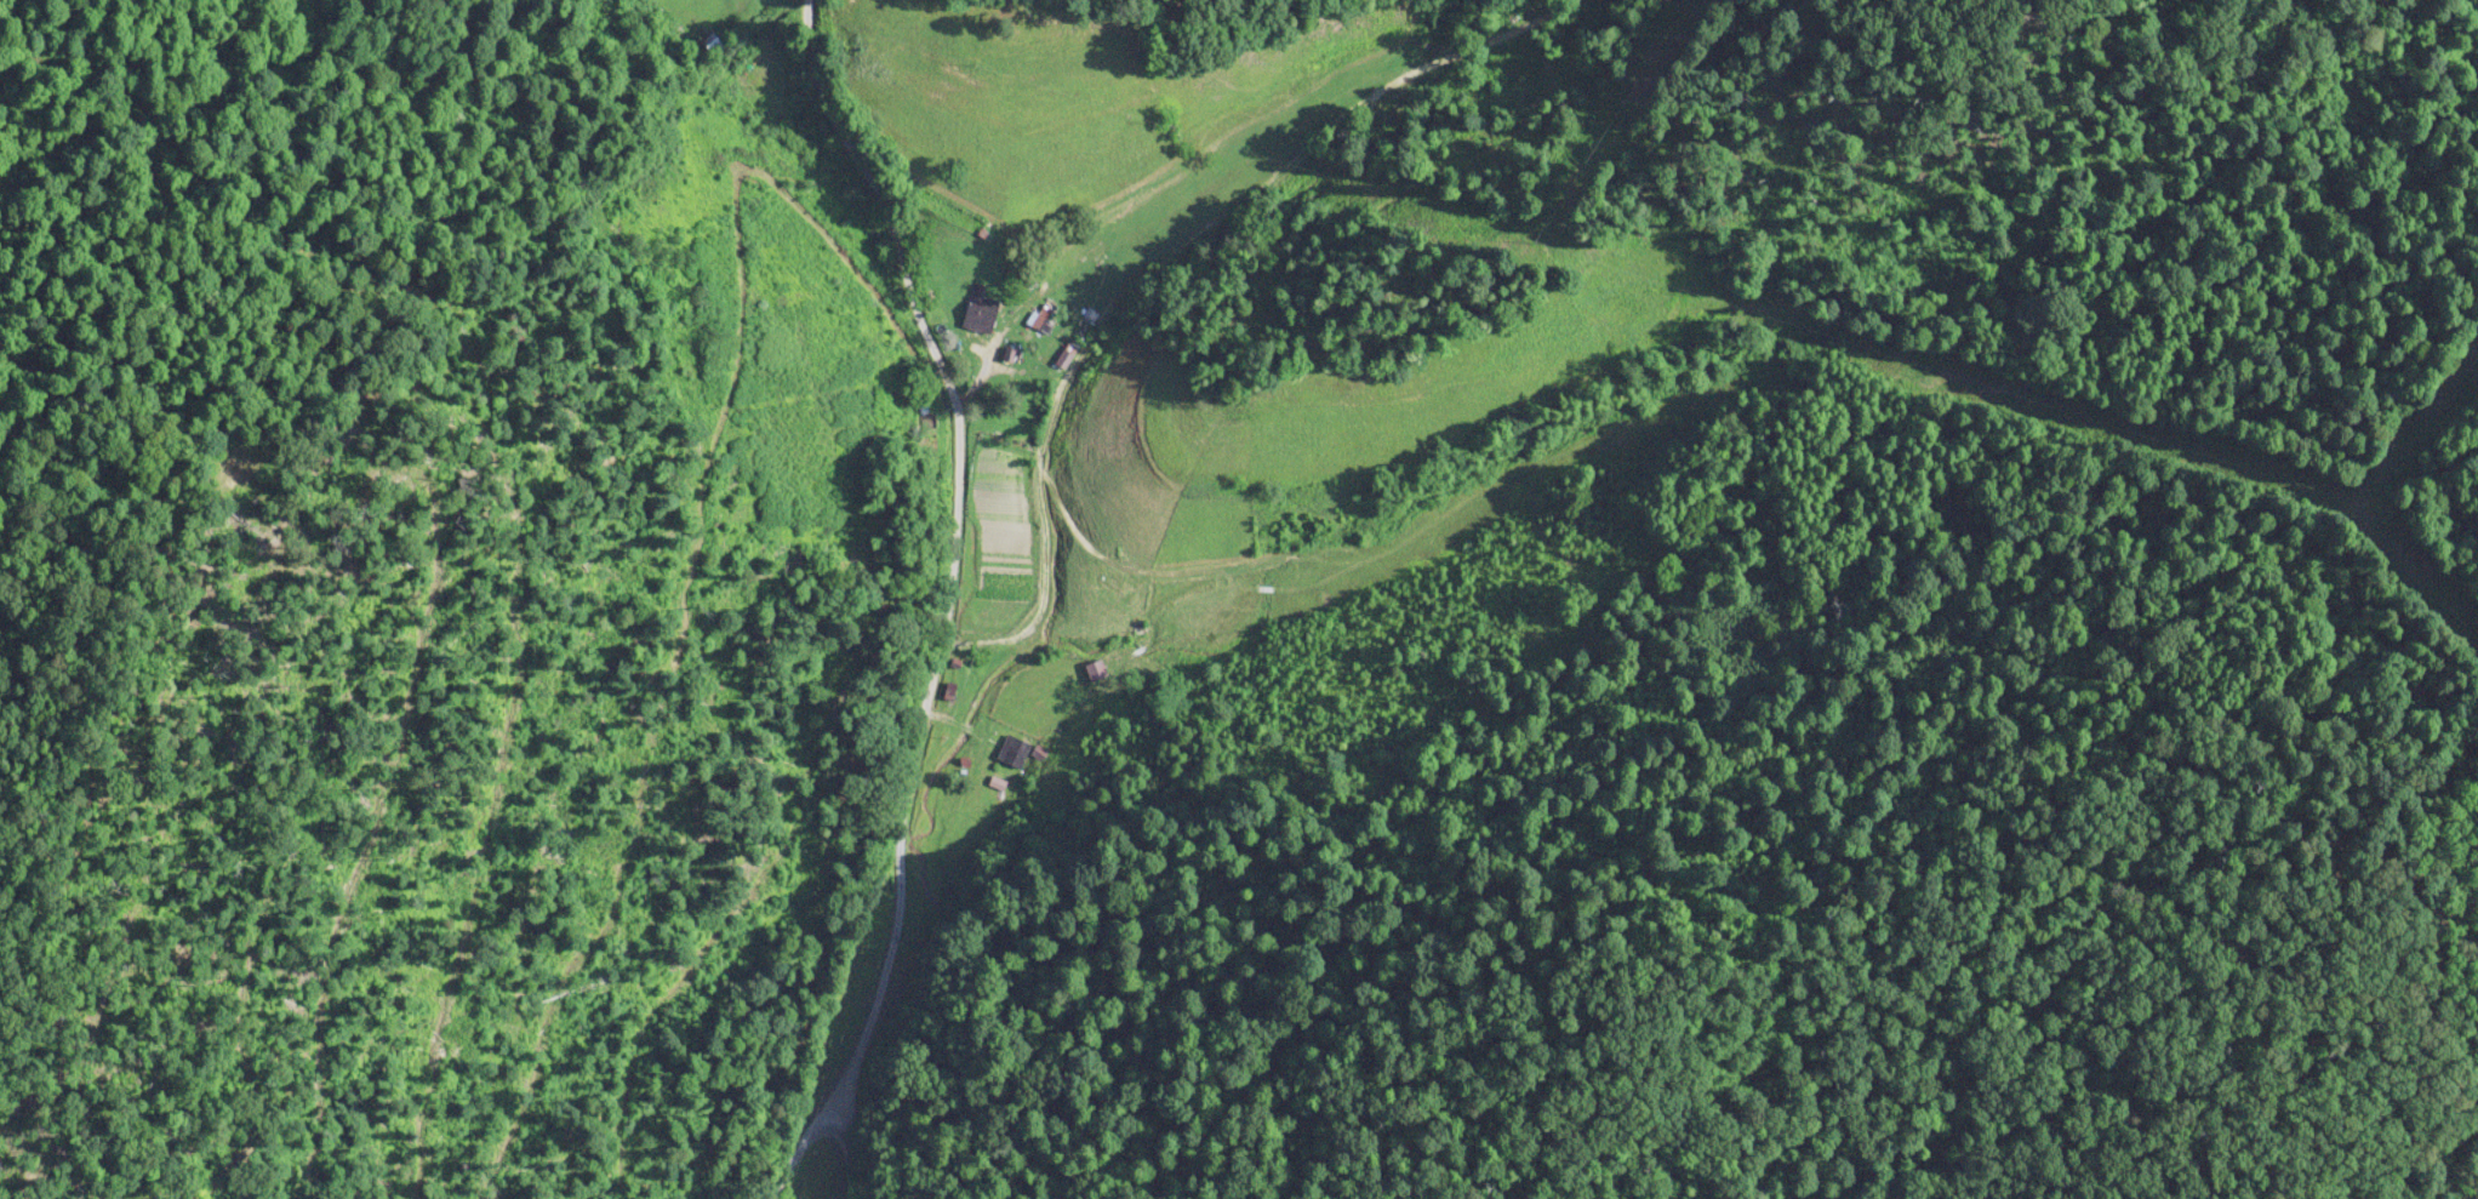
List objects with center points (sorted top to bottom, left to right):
road: (1175, 189)
building: (977, 309)
road: (845, 578)
building: (1095, 669)
building: (1011, 748)
road: (759, 1166)

